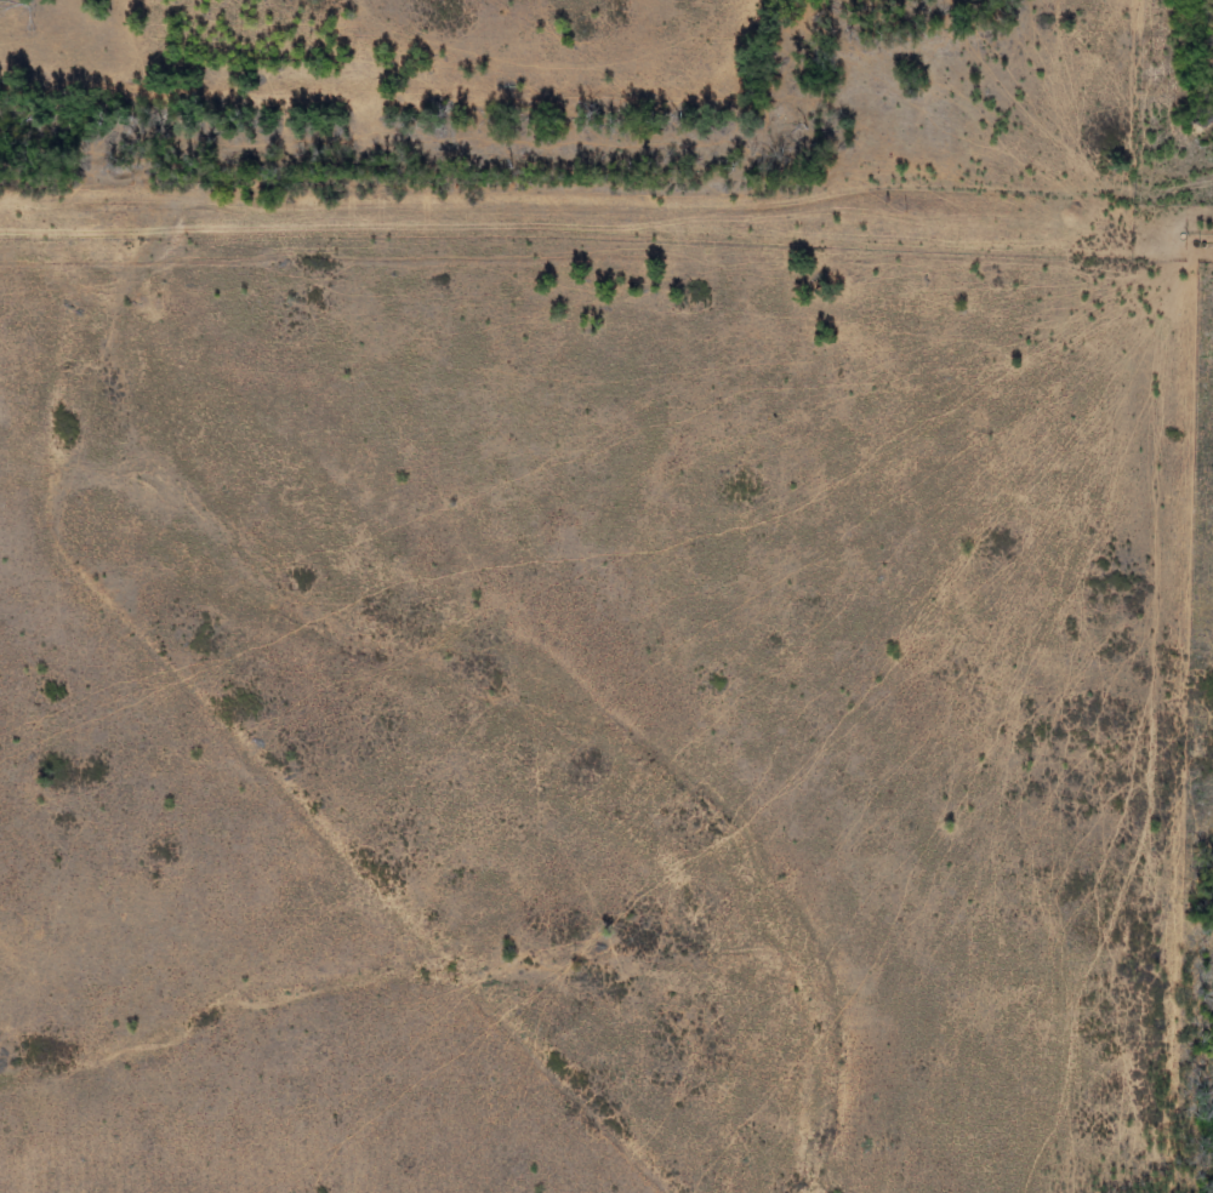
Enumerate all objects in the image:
road: (614, 193)

